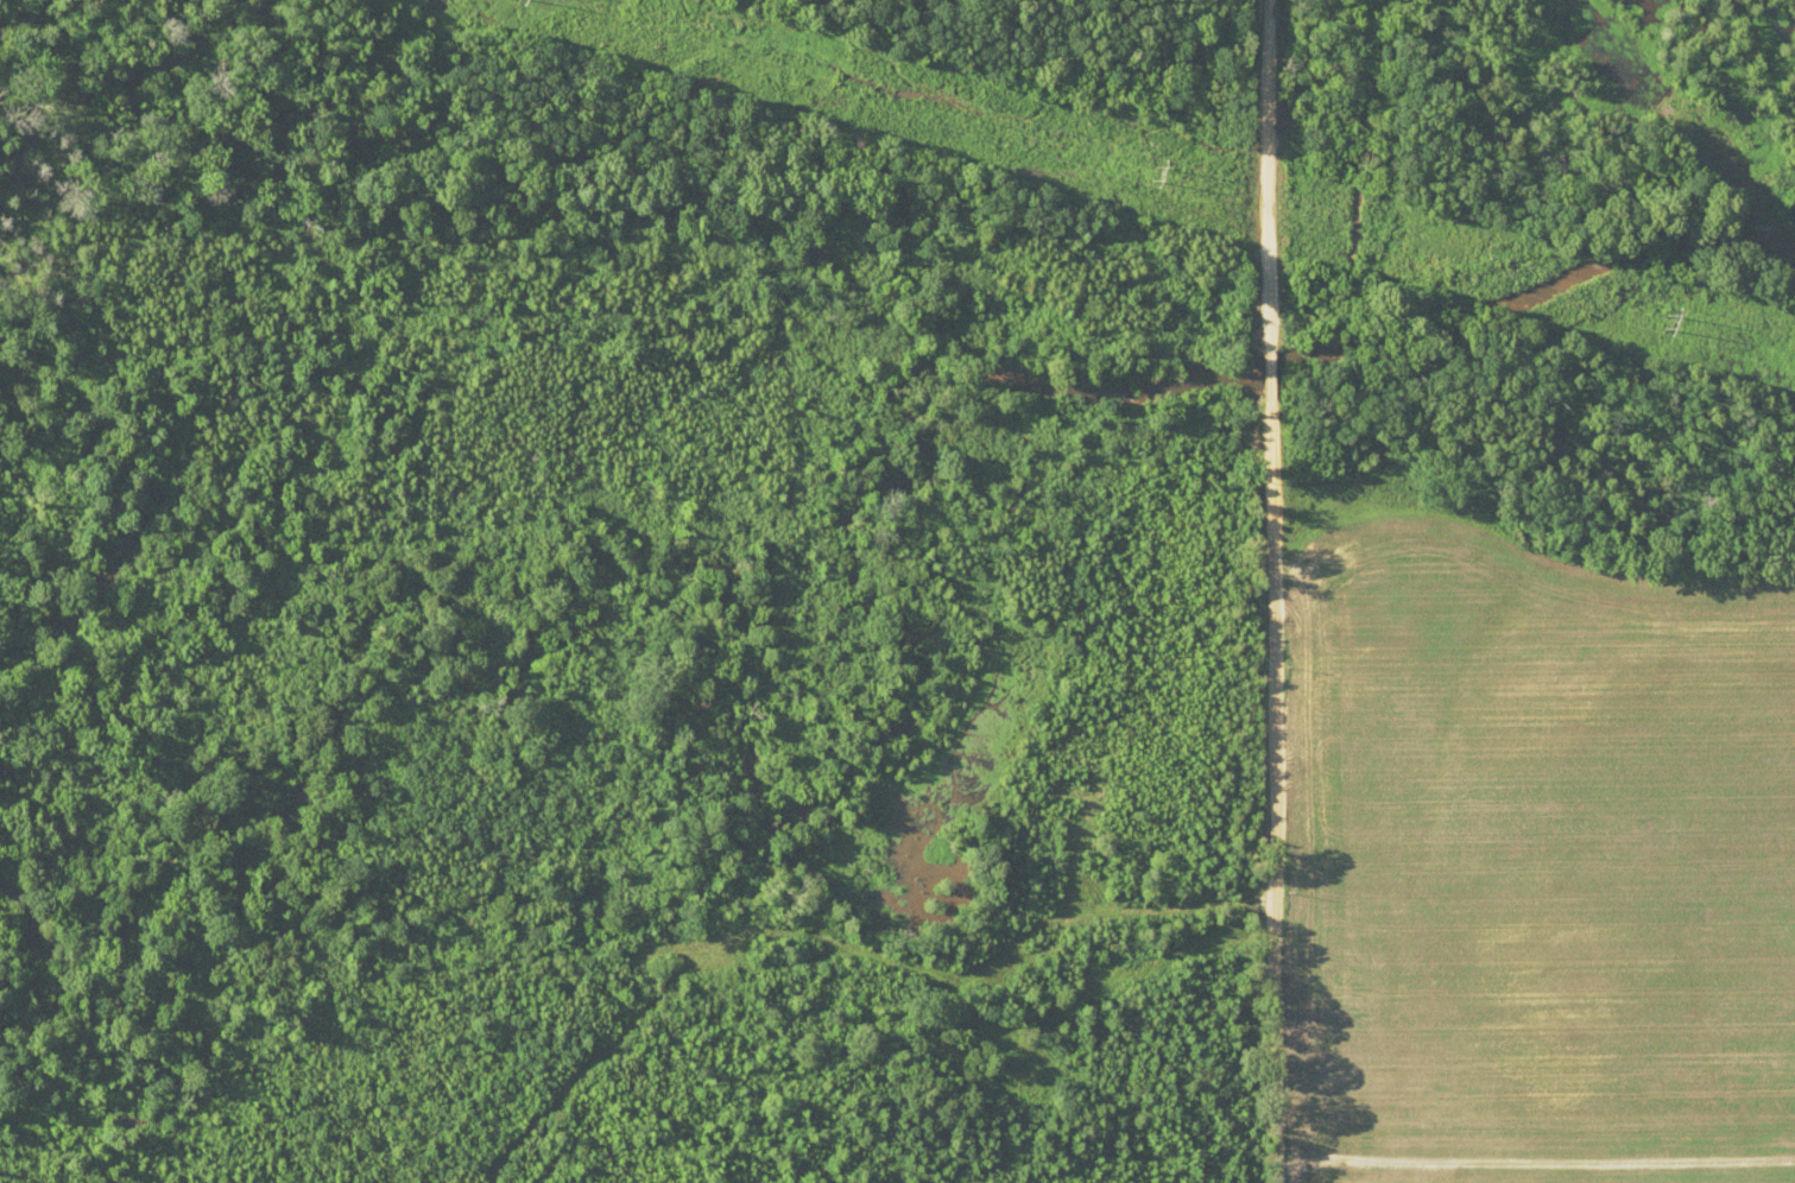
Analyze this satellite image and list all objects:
power tower: (1146, 176)
power tower: (1663, 325)
road: (1278, 591)

